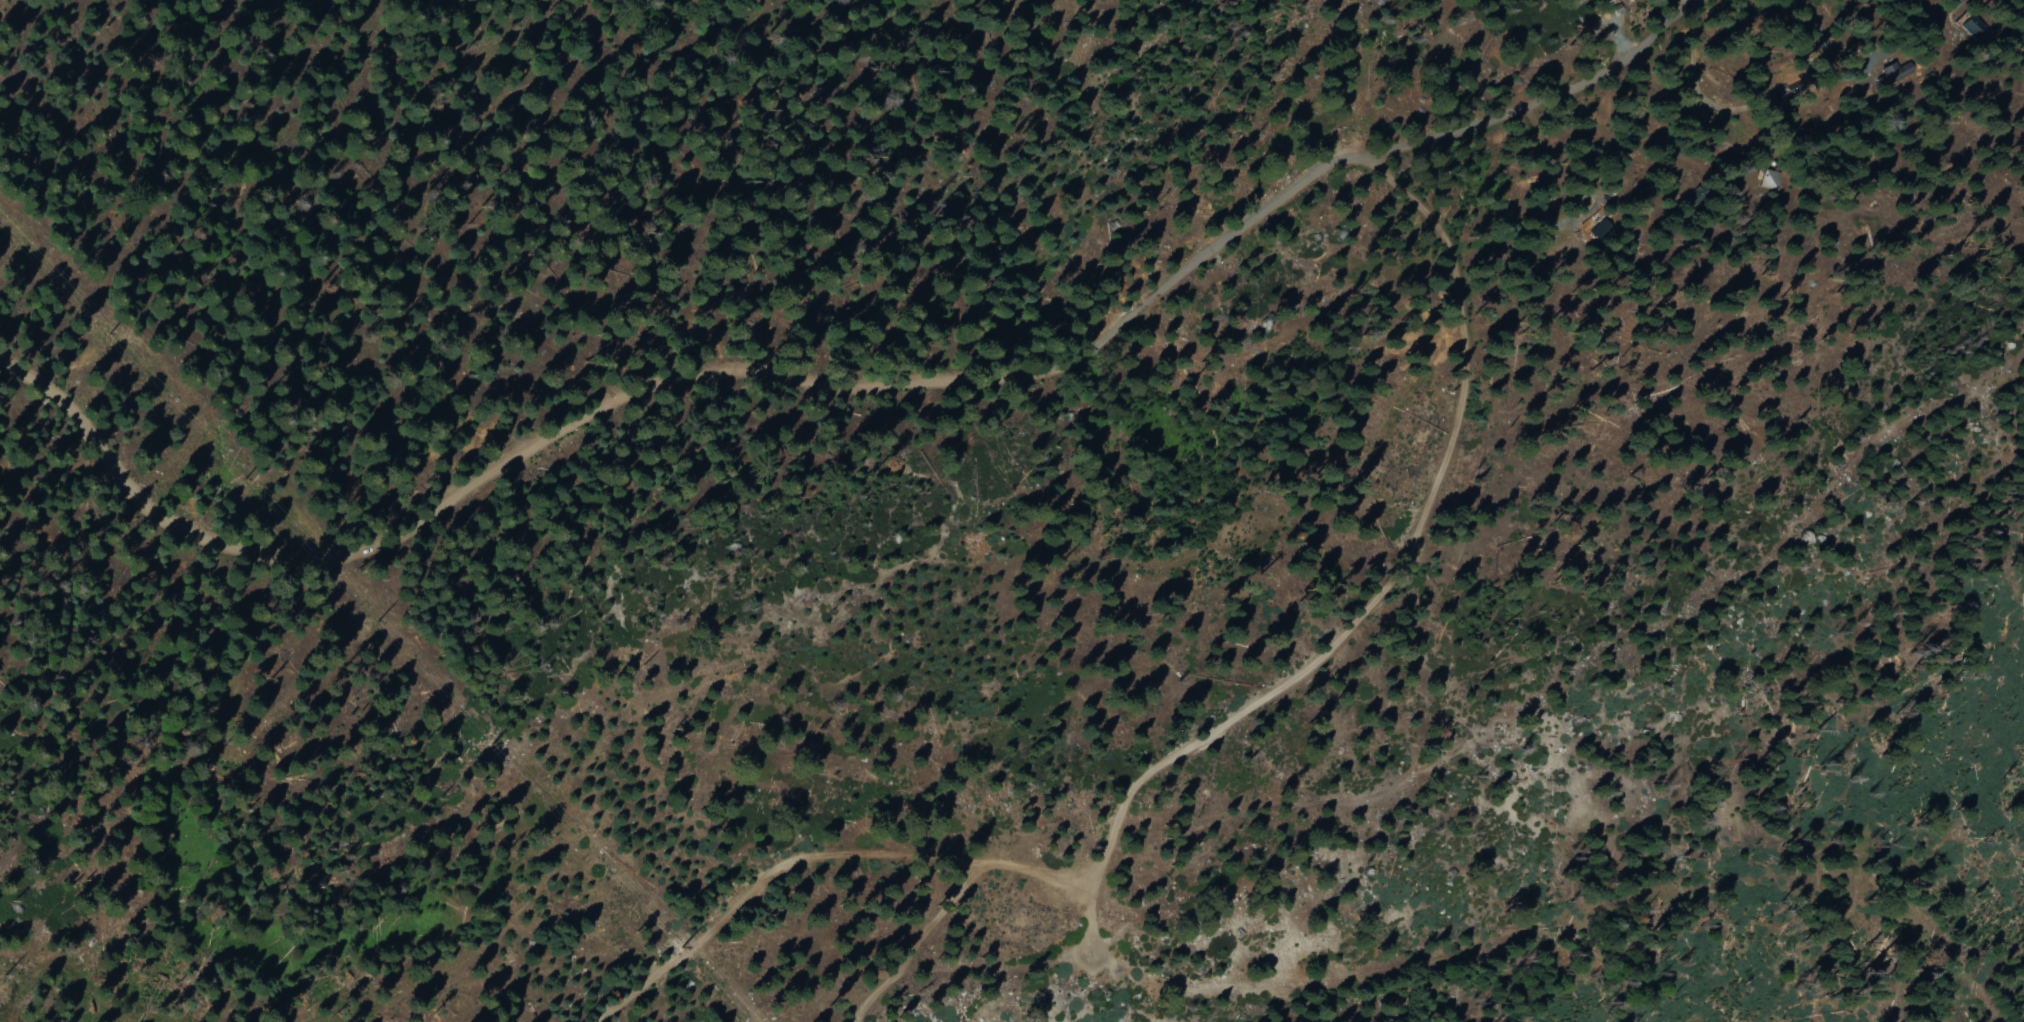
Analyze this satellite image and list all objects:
building: (1891, 73)
power tower: (124, 333)
road: (856, 381)
power tower: (478, 738)
road: (1189, 746)
power tower: (671, 943)

